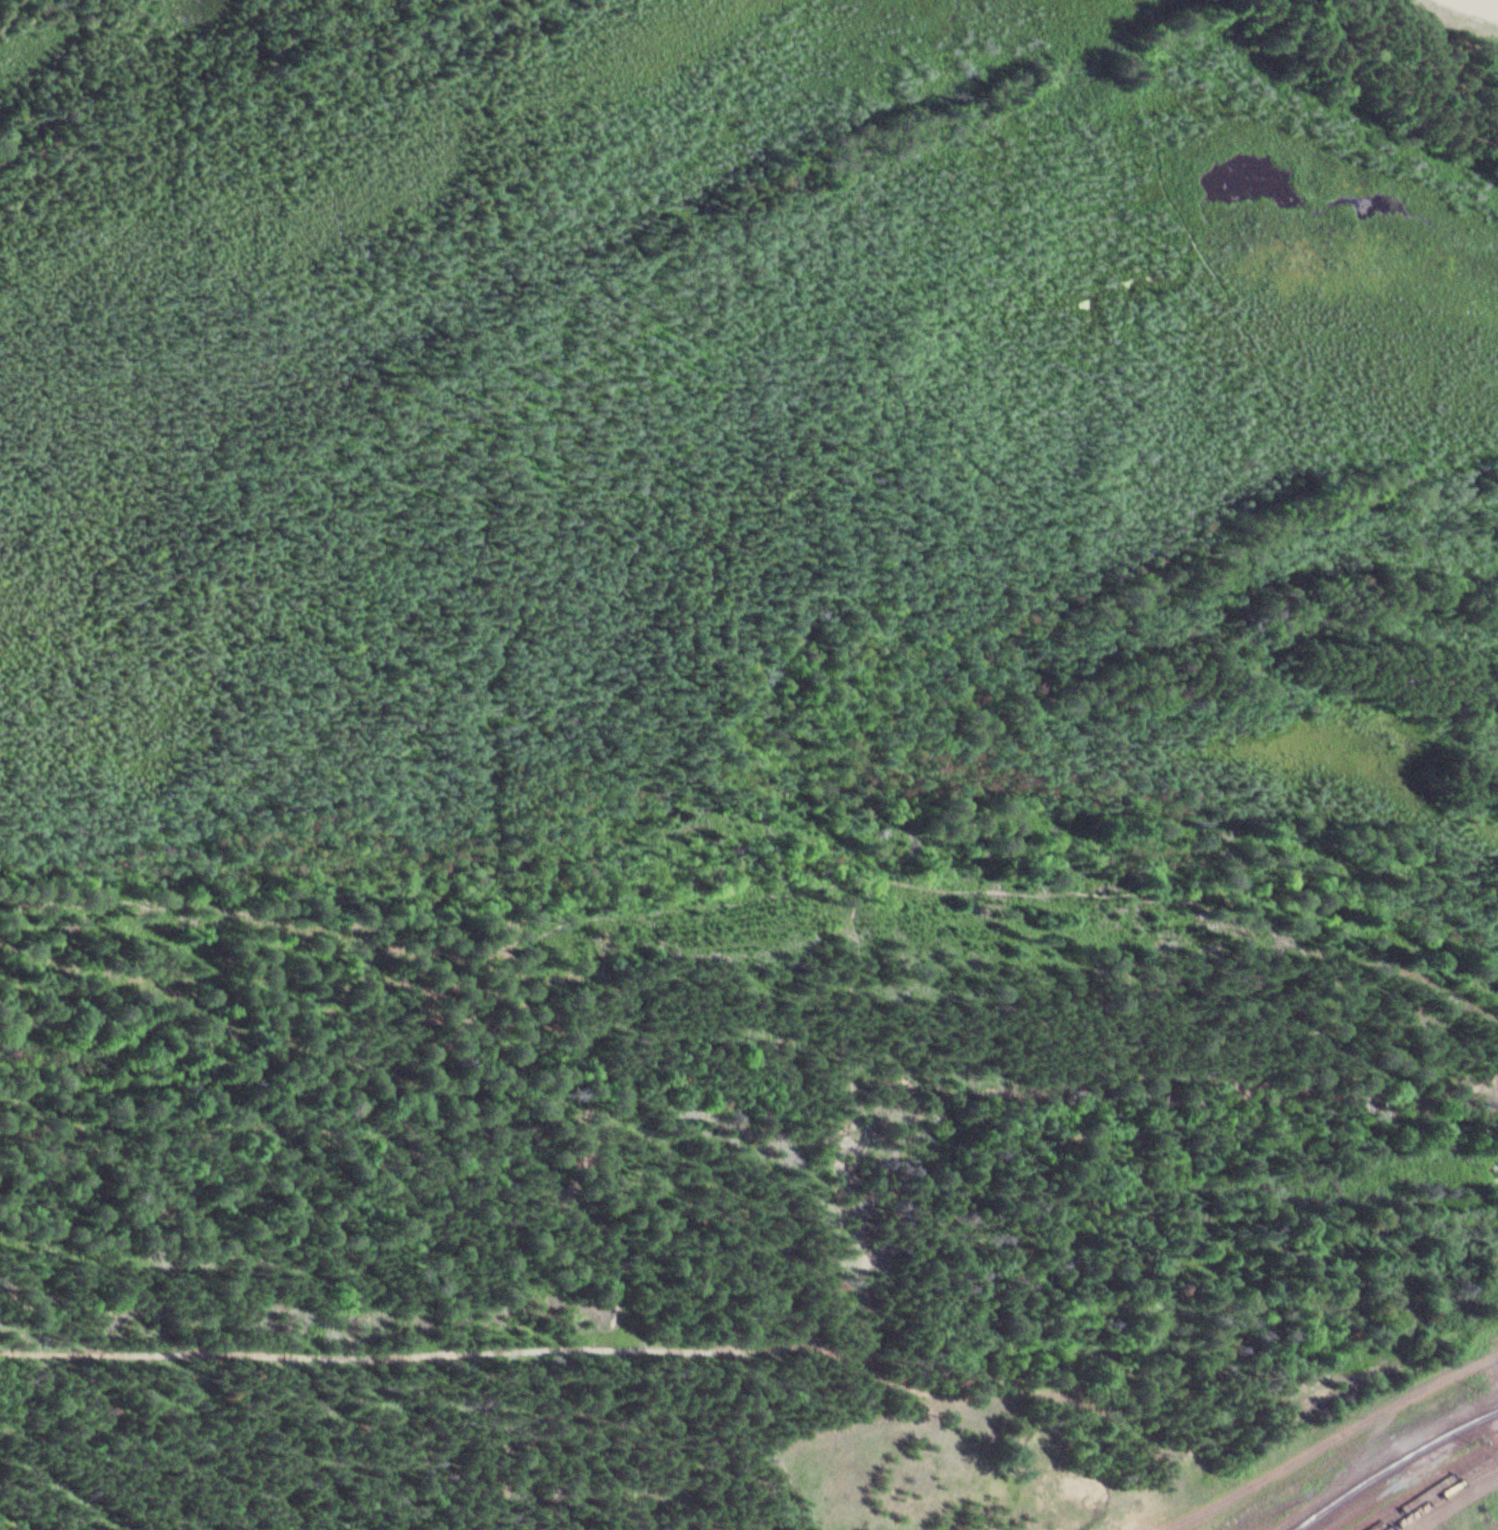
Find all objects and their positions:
railway: (1477, 1419)
road: (1335, 1439)
railway: (1343, 1449)
railway: (1376, 1476)
railway: (1345, 1481)
railway: (1435, 1489)
railway: (1443, 1495)

